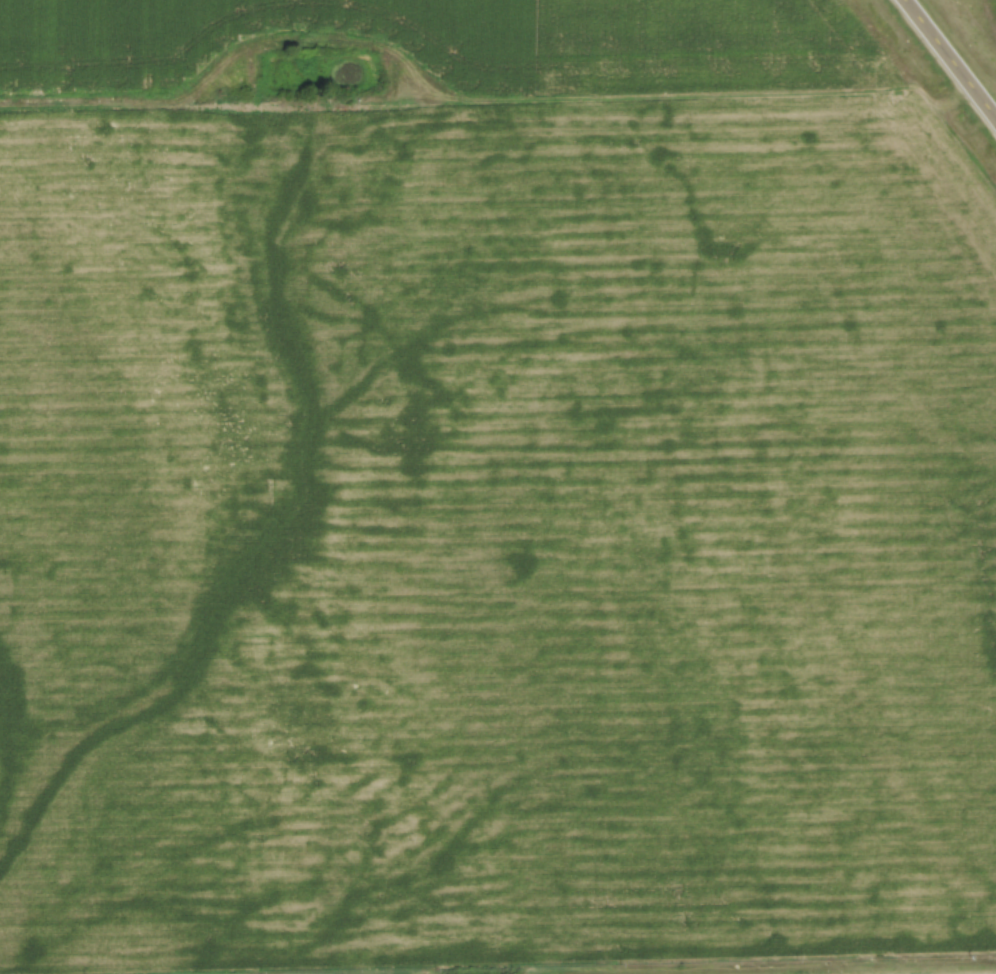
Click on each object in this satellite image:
road: (950, 61)

